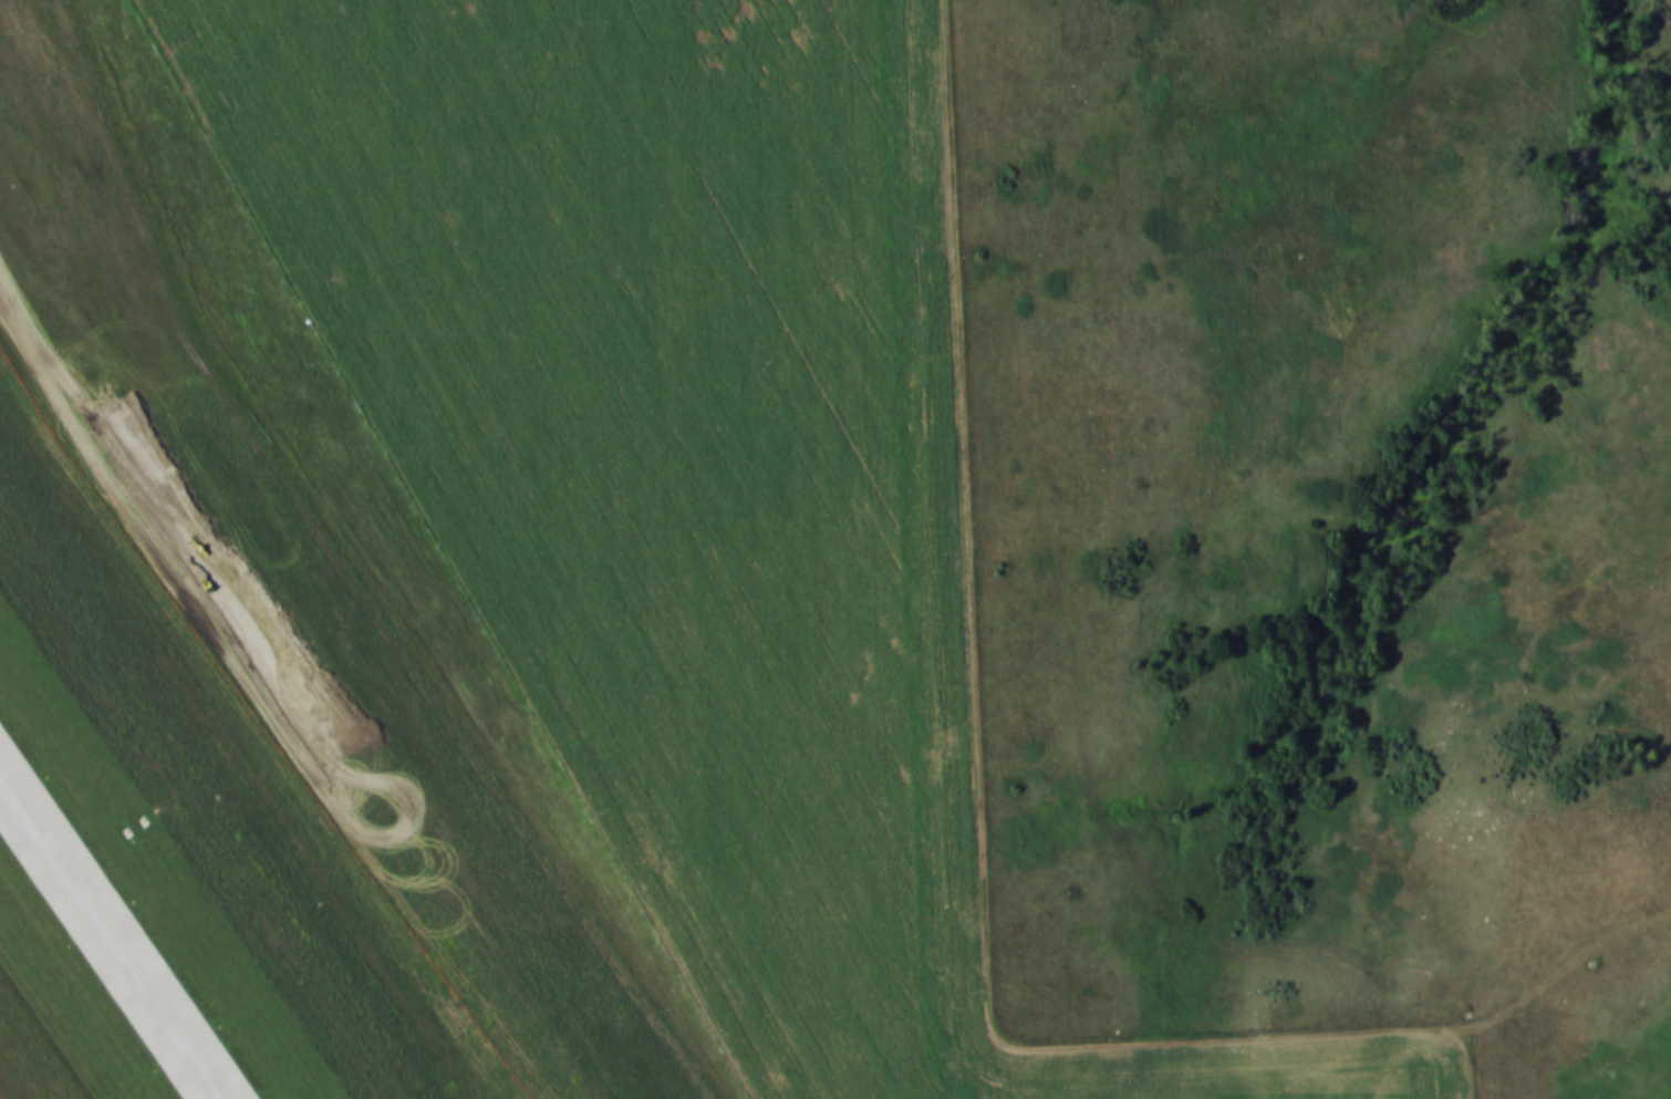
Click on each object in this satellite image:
airport runway: (111, 937)

